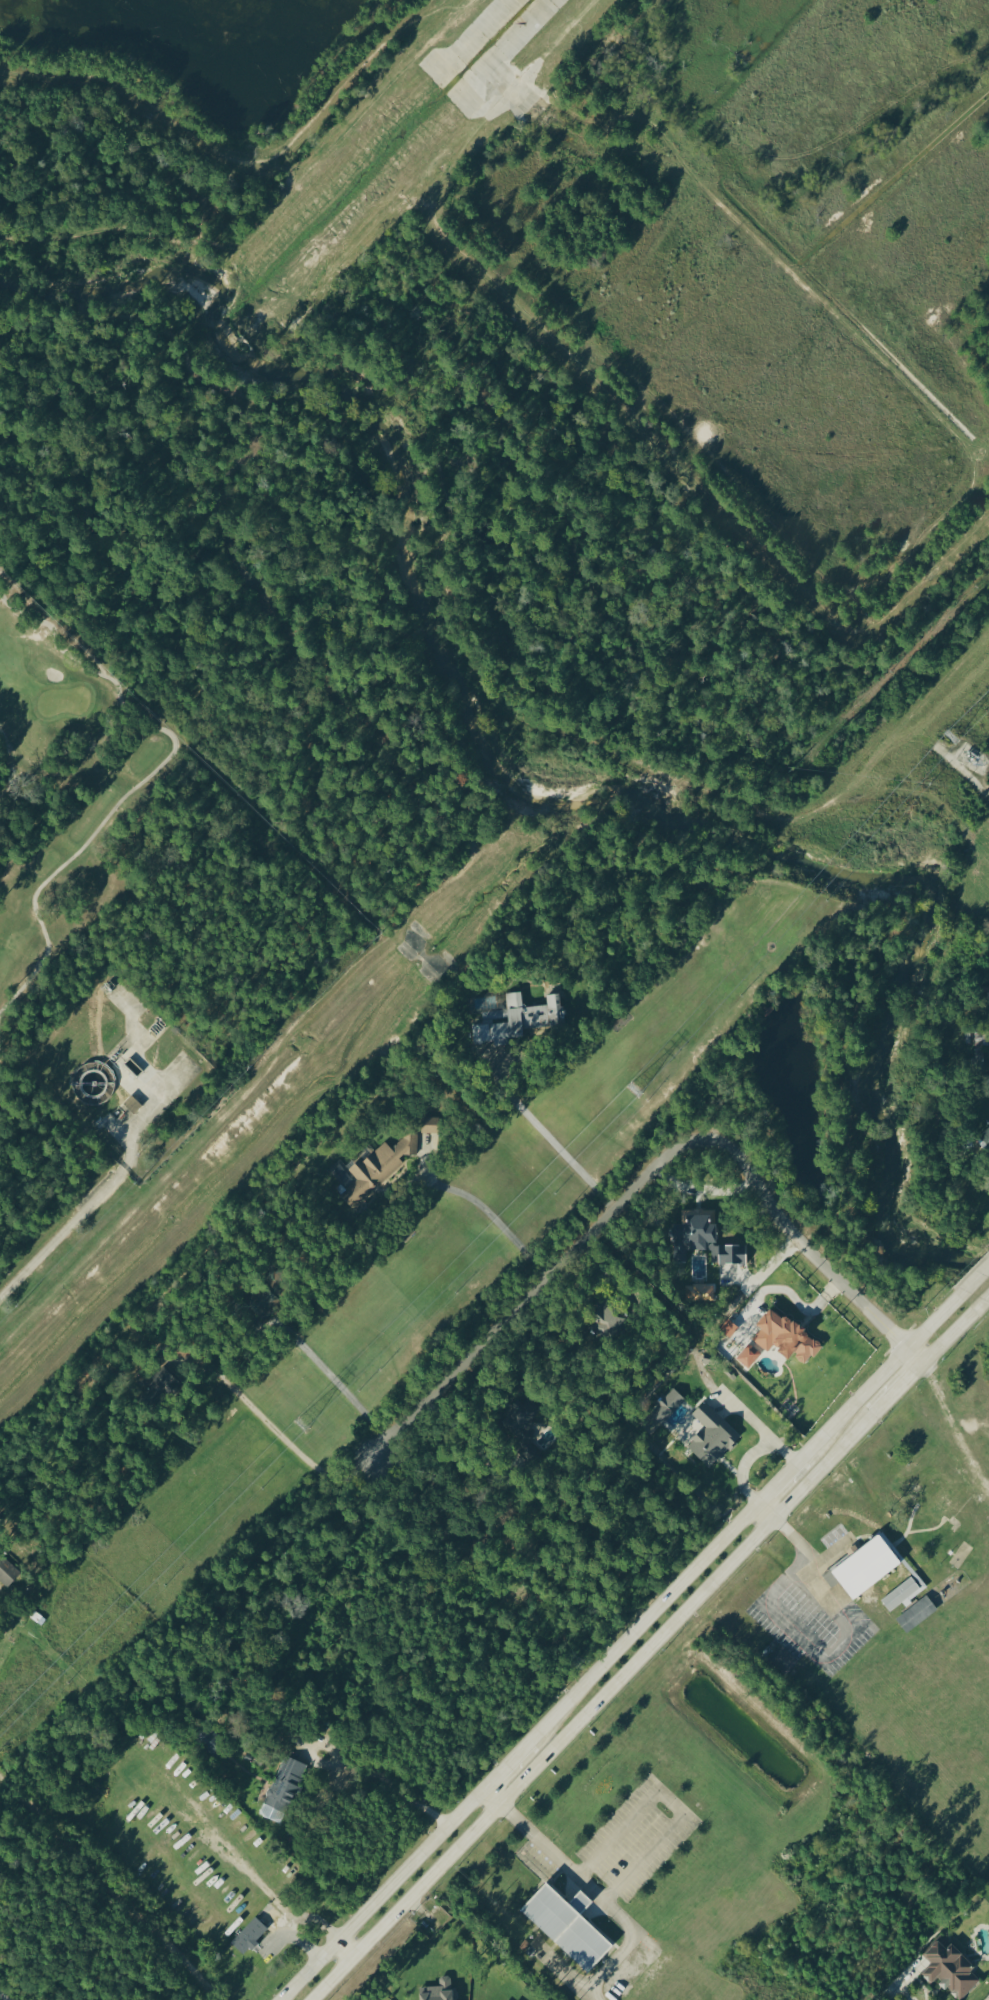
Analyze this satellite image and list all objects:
road: (349, 79)
road: (156, 110)
road: (641, 135)
road: (626, 150)
road: (269, 212)
road: (751, 233)
road: (671, 460)
road: (435, 546)
power tower: (948, 743)
river: (563, 780)
road: (144, 783)
road: (941, 804)
park: (64, 805)
building: (519, 1022)
road: (0, 1048)
wastewater plant: (125, 1075)
power tower: (637, 1094)
building: (433, 1128)
road: (551, 1141)
road: (130, 1151)
building: (373, 1172)
road: (639, 1181)
road: (361, 1199)
road: (976, 1277)
building: (705, 1295)
road: (987, 1298)
building: (619, 1331)
road: (955, 1331)
building: (788, 1340)
road: (326, 1371)
road: (882, 1373)
road: (898, 1388)
road: (955, 1426)
road: (272, 1427)
power tower: (302, 1428)
building: (714, 1439)
road: (780, 1479)
building: (898, 1491)
building: (940, 1509)
road: (907, 1527)
road: (928, 1528)
road: (790, 1532)
road: (896, 1554)
building: (864, 1568)
building: (8, 1575)
building: (905, 1594)
parking lot: (774, 1604)
building: (918, 1615)
road: (643, 1621)
road: (849, 1628)
building: (781, 1662)
road: (591, 1707)
road: (506, 1764)
road: (387, 1782)
building: (285, 1786)
road: (492, 1795)
road: (673, 1799)
parking lot: (638, 1837)
road: (247, 1874)
road: (109, 1892)
road: (381, 1894)
road: (596, 1894)
road: (580, 1901)
building: (585, 1903)
road: (319, 1922)
building: (571, 1929)
building: (251, 1937)
road: (300, 1944)
road: (346, 1946)
building: (952, 1970)
road: (566, 1971)
building: (441, 1991)
road: (1, 1998)

